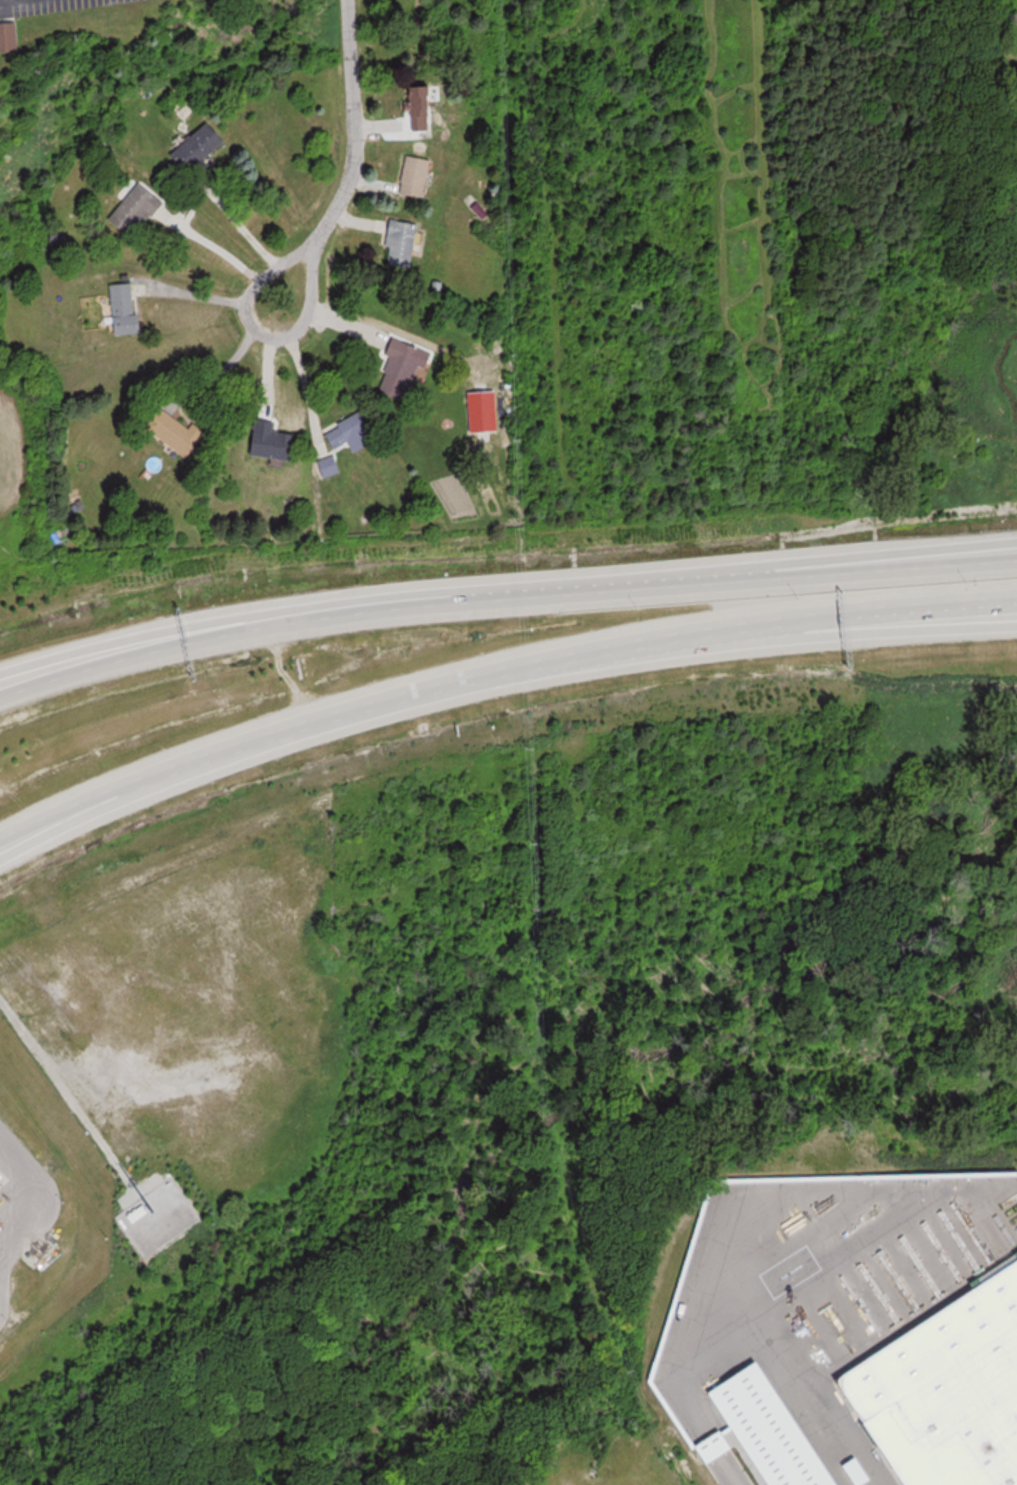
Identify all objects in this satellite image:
building: (6, 35)
building: (422, 109)
building: (201, 146)
road: (346, 157)
building: (418, 175)
building: (137, 208)
building: (403, 242)
building: (126, 309)
building: (404, 367)
road: (302, 376)
building: (353, 432)
building: (330, 465)
road: (925, 562)
road: (503, 597)
road: (882, 618)
road: (882, 630)
road: (33, 677)
road: (365, 702)
road: (71, 816)
building: (3, 957)
building: (3, 1179)
building: (949, 1391)
building: (779, 1446)
road: (725, 1476)

